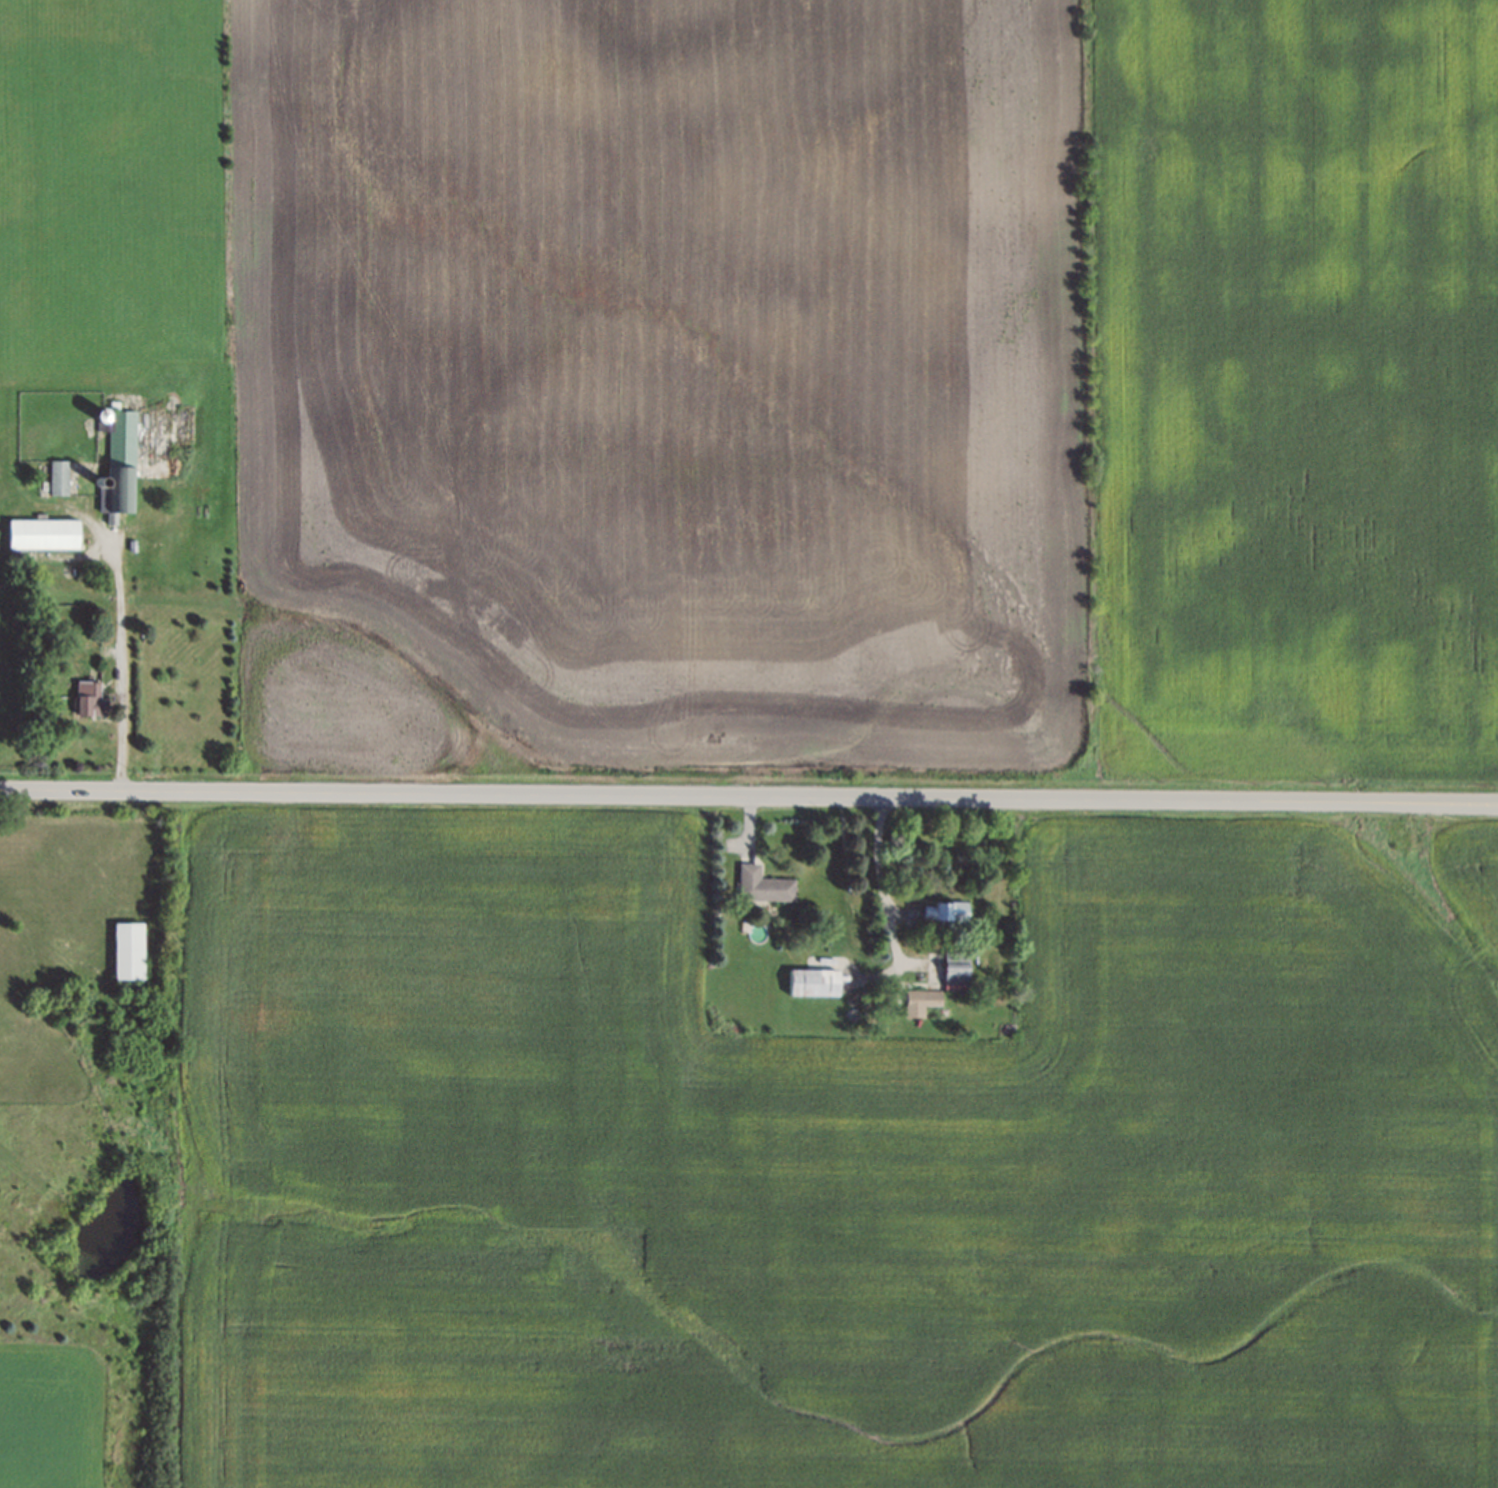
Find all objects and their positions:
crop: (590, 364)
crop: (1299, 384)
building: (96, 420)
building: (116, 466)
building: (55, 477)
building: (96, 479)
building: (39, 533)
building: (129, 544)
road: (119, 658)
building: (84, 699)
road: (749, 795)
road: (881, 880)
building: (759, 881)
building: (942, 910)
building: (125, 952)
building: (950, 966)
building: (809, 981)
building: (915, 999)
crop: (835, 1176)

